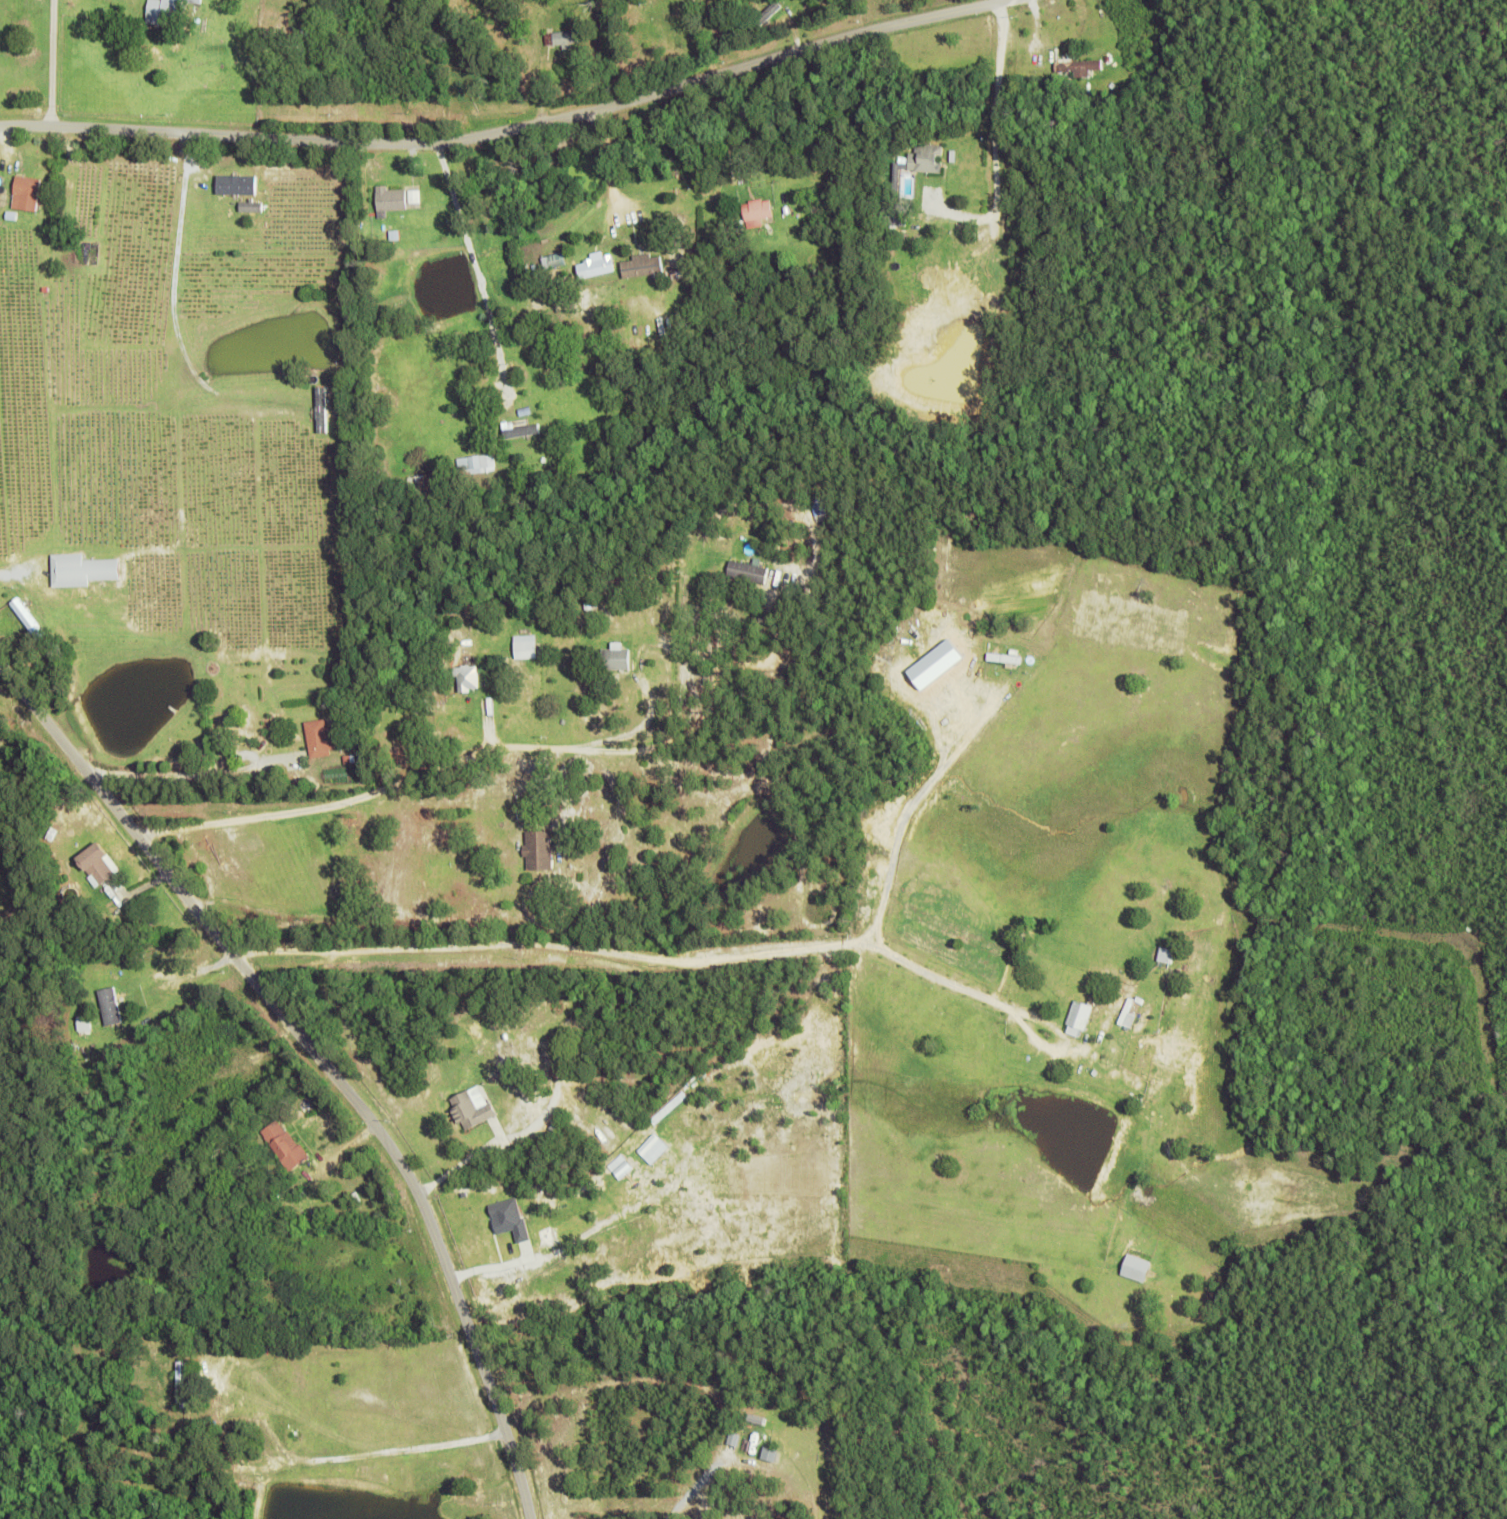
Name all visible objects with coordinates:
building: (718, 11)
building: (170, 14)
building: (765, 19)
building: (308, 31)
building: (650, 37)
building: (562, 39)
building: (1044, 57)
building: (1079, 69)
road: (513, 130)
building: (28, 141)
building: (781, 171)
building: (7, 177)
building: (846, 178)
building: (677, 182)
building: (235, 184)
building: (896, 186)
building: (28, 190)
building: (3, 192)
building: (416, 194)
building: (245, 195)
building: (393, 196)
building: (820, 207)
building: (758, 209)
building: (394, 236)
building: (894, 255)
building: (558, 257)
building: (644, 262)
building: (597, 263)
building: (676, 269)
building: (945, 278)
road: (489, 287)
building: (693, 291)
building: (791, 311)
building: (933, 312)
building: (322, 398)
building: (559, 406)
building: (520, 428)
building: (471, 461)
building: (82, 568)
building: (750, 568)
building: (590, 605)
building: (28, 616)
building: (525, 646)
building: (1006, 656)
building: (617, 657)
building: (482, 667)
building: (467, 677)
building: (321, 736)
building: (360, 755)
building: (348, 757)
road: (420, 773)
road: (905, 808)
building: (53, 833)
building: (540, 848)
building: (100, 865)
road: (553, 946)
building: (1165, 953)
road: (956, 979)
building: (110, 1003)
building: (1131, 1011)
building: (1080, 1016)
building: (85, 1021)
building: (477, 1033)
building: (546, 1037)
road: (323, 1058)
building: (1140, 1100)
building: (287, 1145)
building: (652, 1147)
building: (221, 1192)
building: (509, 1217)
building: (1138, 1267)
building: (367, 1349)
building: (342, 1360)
building: (394, 1366)
building: (184, 1381)

